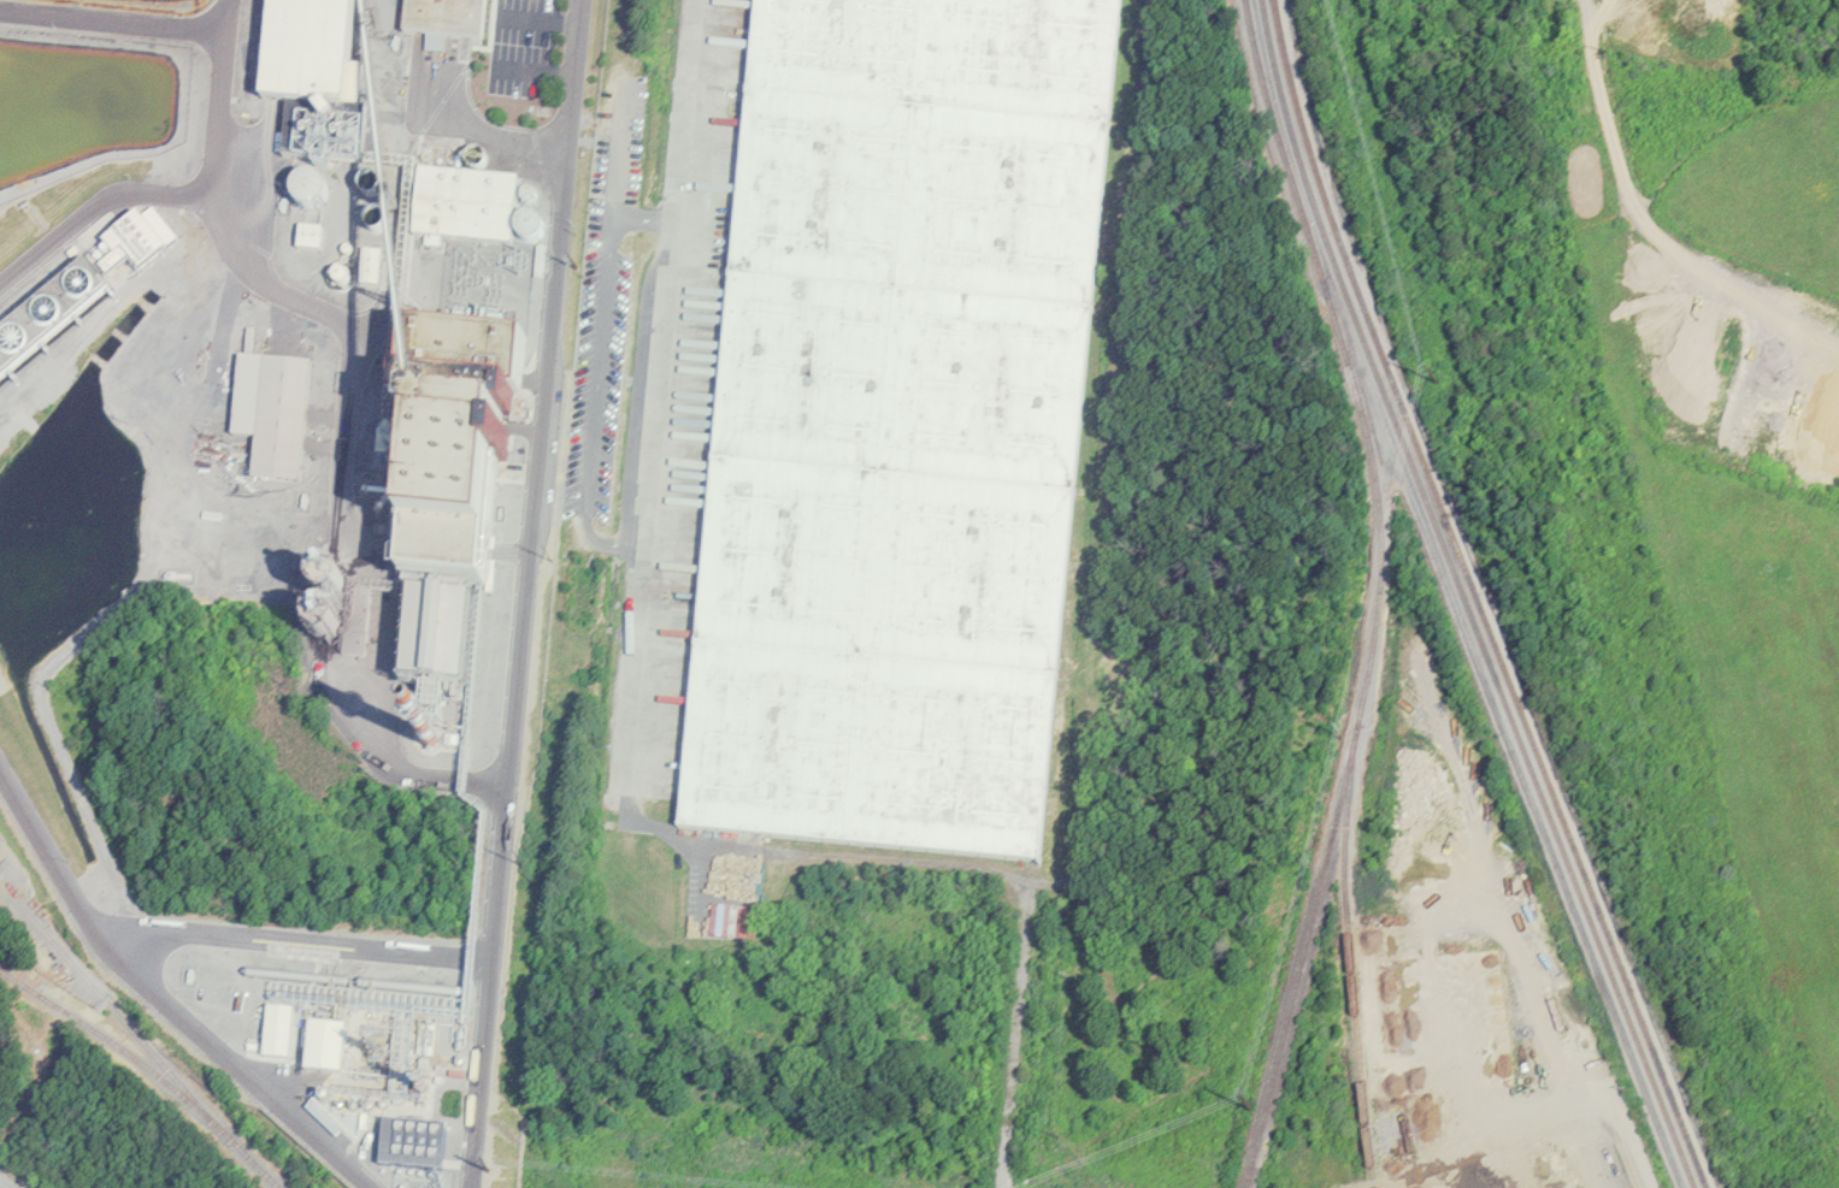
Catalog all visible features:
building: (444, 18)
road: (112, 22)
road: (540, 22)
road: (535, 75)
building: (314, 78)
road: (462, 134)
building: (465, 206)
road: (94, 211)
road: (649, 221)
road: (608, 268)
power substation: (488, 285)
road: (276, 289)
building: (83, 292)
road: (670, 395)
building: (271, 414)
building: (900, 422)
building: (453, 443)
power plant: (290, 533)
railway: (1380, 592)
road: (525, 593)
railway: (1464, 598)
railway: (1478, 598)
building: (432, 642)
chimney: (428, 735)
road: (297, 945)
railway: (1350, 964)
road: (160, 1000)
building: (1434, 1018)
railway: (1016, 1024)
railway: (137, 1036)
building: (343, 1044)
railway: (118, 1046)
road: (1597, 1063)

